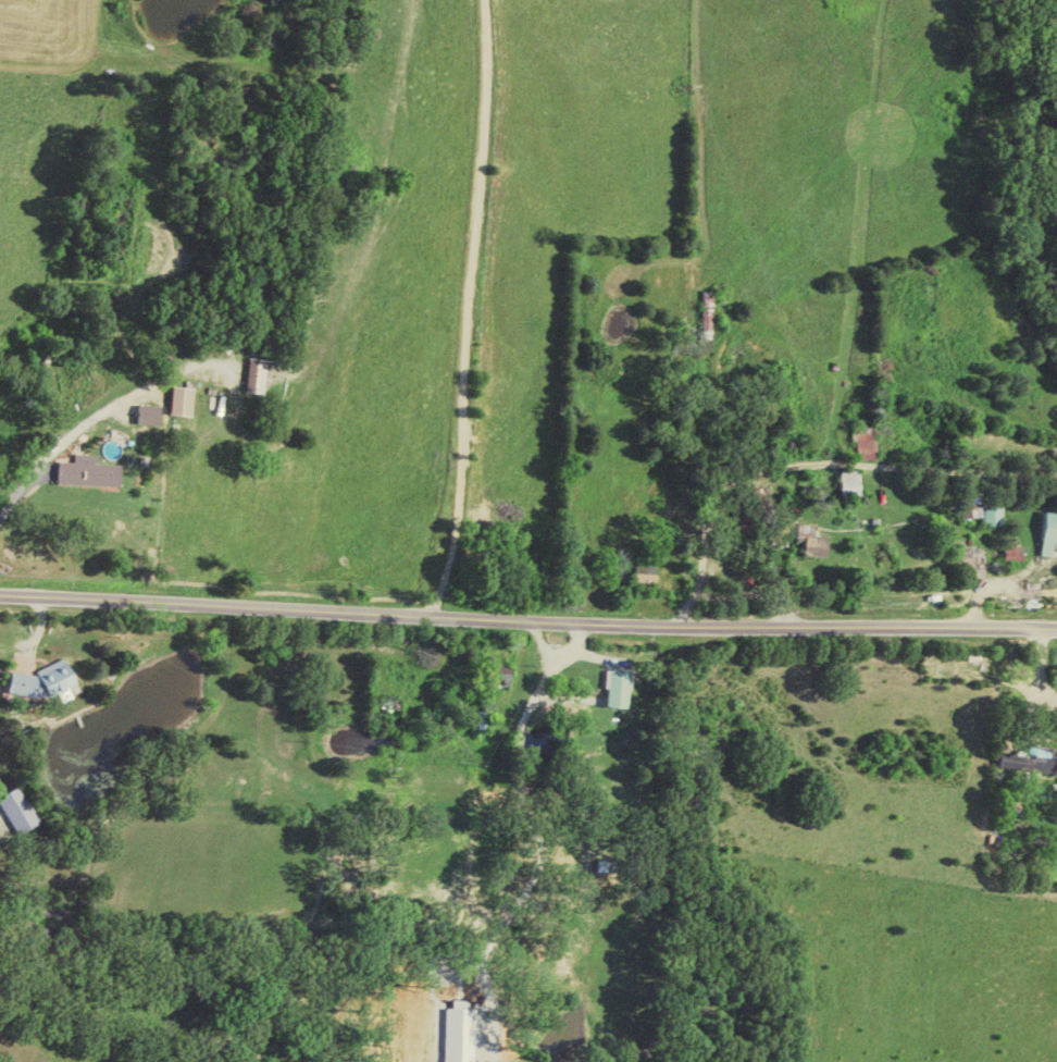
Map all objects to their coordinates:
road: (732, 311)
building: (710, 313)
building: (258, 374)
building: (182, 399)
building: (148, 412)
building: (869, 442)
building: (88, 471)
building: (853, 480)
building: (983, 508)
building: (1048, 532)
building: (813, 540)
building: (1014, 553)
building: (646, 573)
road: (527, 615)
building: (500, 671)
building: (45, 680)
building: (619, 688)
building: (1037, 760)
building: (21, 810)
building: (460, 1030)

